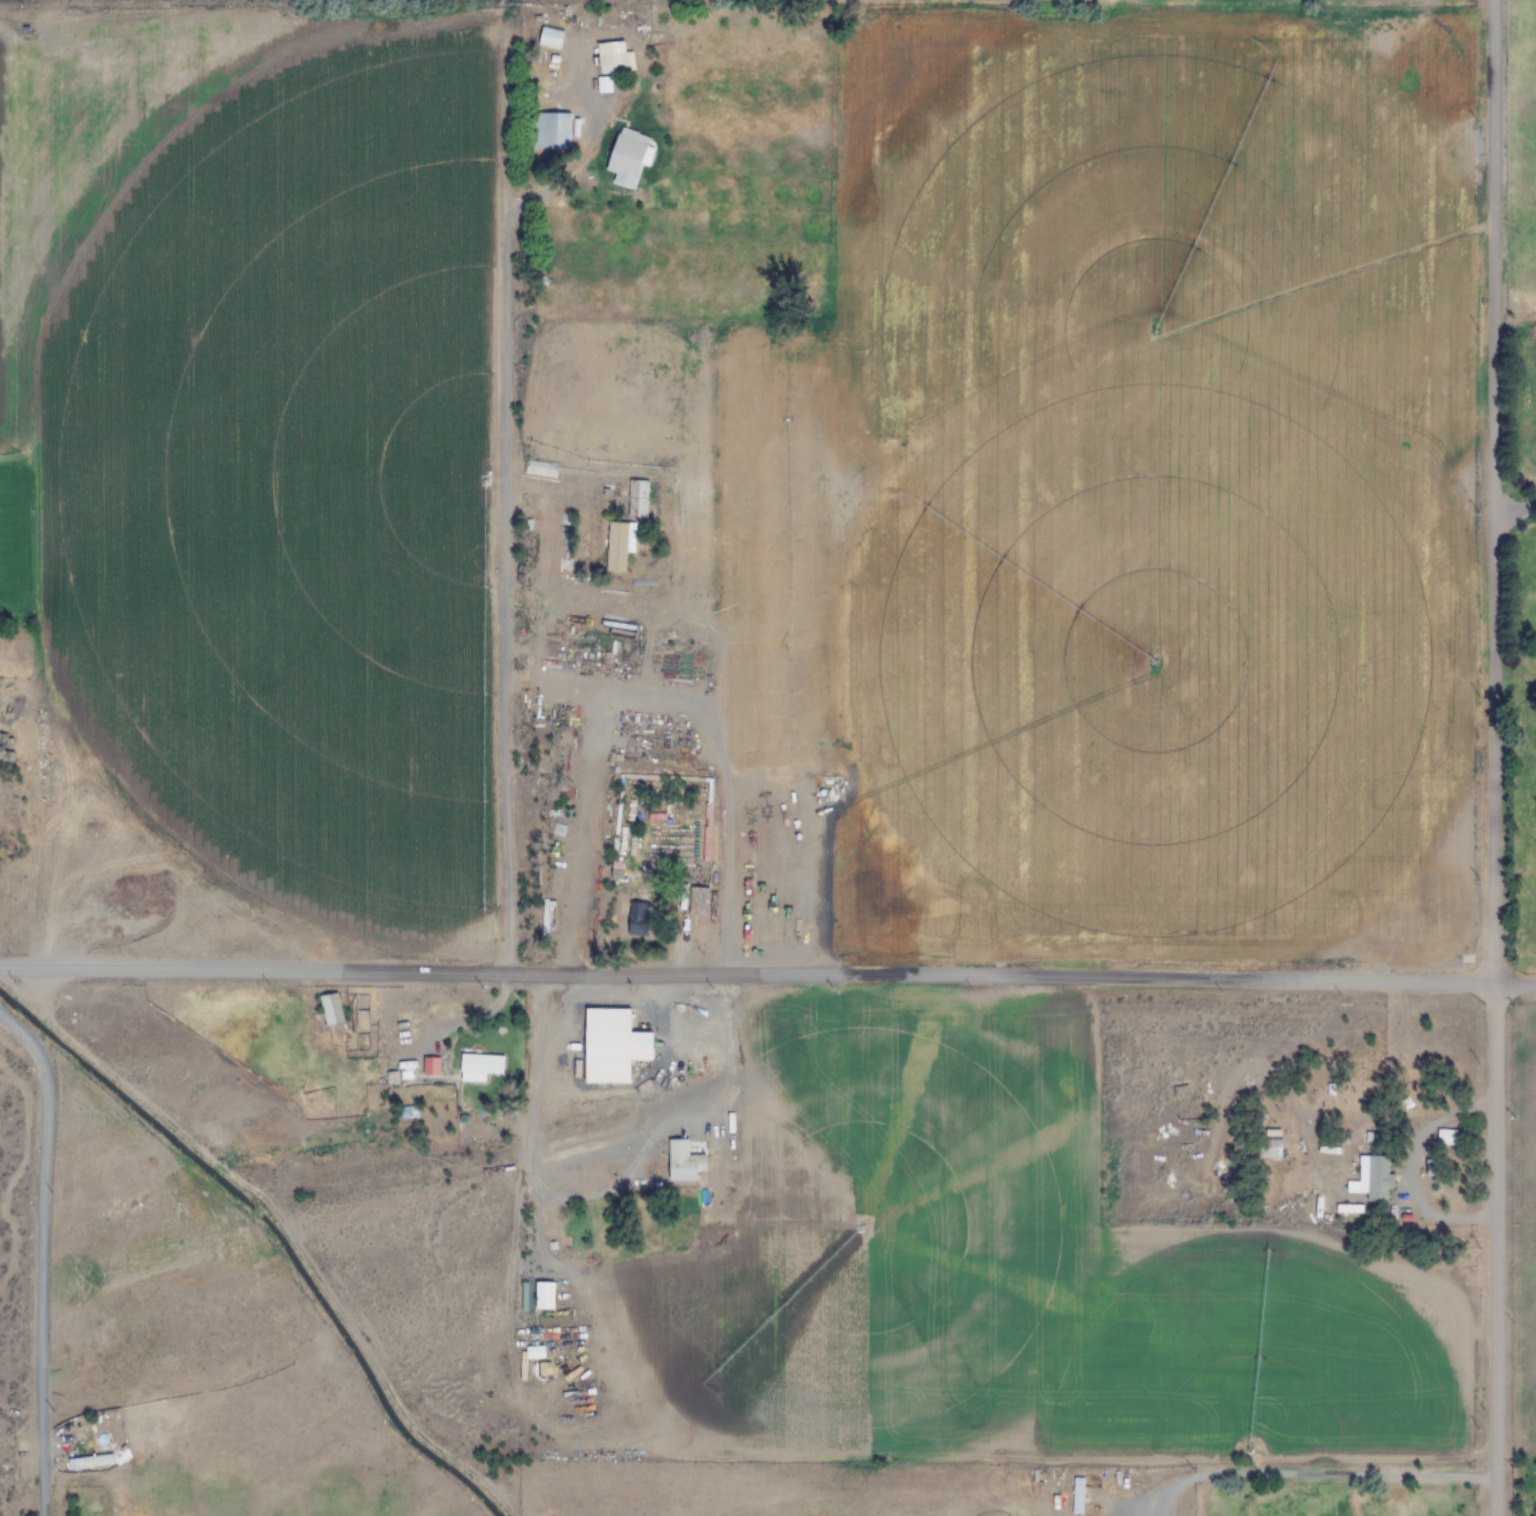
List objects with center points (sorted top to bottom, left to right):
building: (549, 38)
building: (614, 63)
building: (550, 131)
building: (627, 155)
building: (636, 498)
building: (1532, 504)
road: (501, 521)
building: (618, 544)
building: (0, 751)
road: (1492, 757)
crop: (763, 770)
building: (697, 899)
building: (637, 918)
road: (747, 973)
road: (1515, 986)
building: (329, 1008)
building: (479, 1067)
road: (21, 1124)
building: (1269, 1147)
building: (683, 1162)
building: (1375, 1178)
road: (1456, 1210)
road: (43, 1260)
building: (543, 1295)
building: (89, 1462)
road: (1319, 1472)

